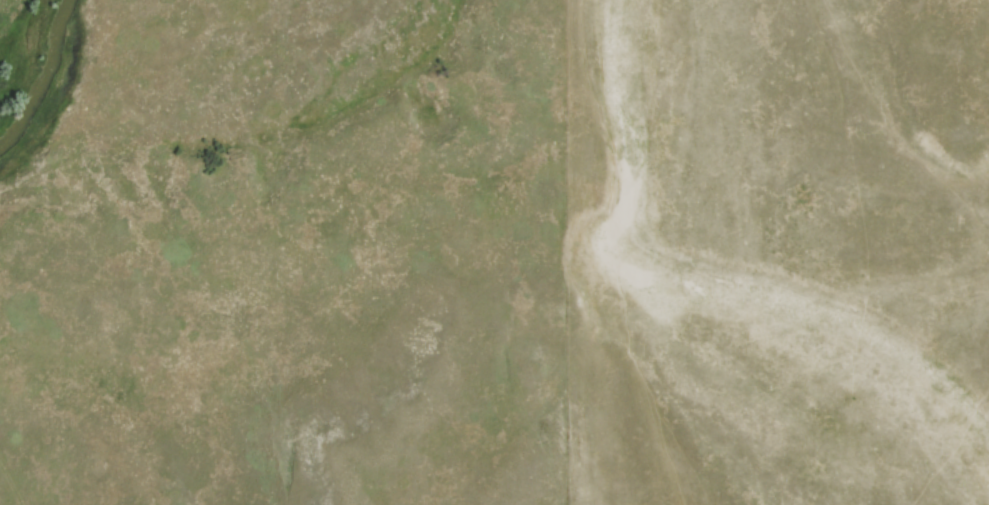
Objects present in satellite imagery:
river: (43, 77)

